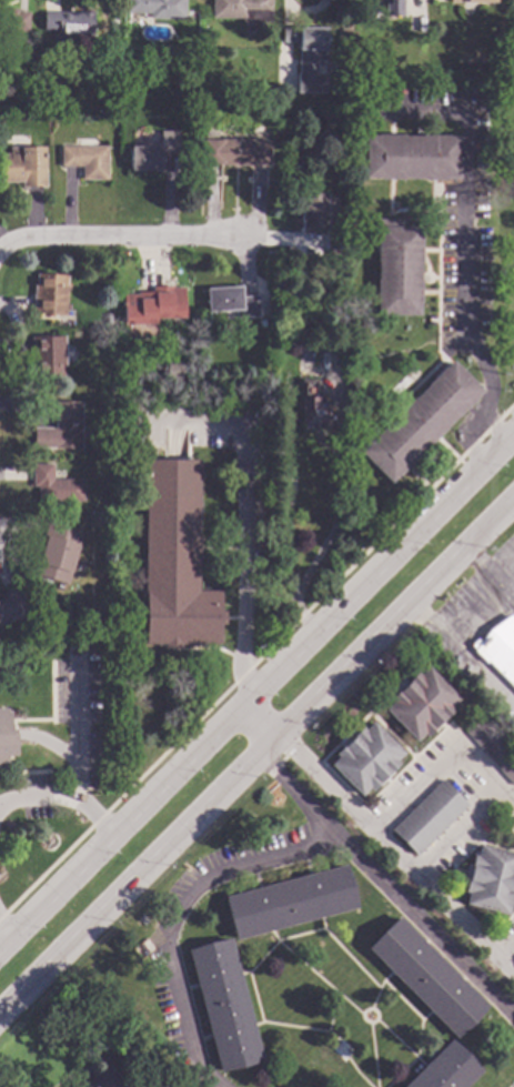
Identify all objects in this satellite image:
building: (470, 0)
road: (23, 3)
road: (48, 3)
building: (391, 7)
building: (157, 8)
building: (242, 10)
road: (300, 12)
building: (13, 20)
building: (113, 20)
building: (68, 26)
building: (305, 37)
building: (189, 44)
building: (370, 77)
building: (295, 83)
building: (263, 91)
building: (210, 109)
building: (235, 151)
building: (152, 152)
building: (411, 155)
building: (85, 160)
building: (23, 165)
building: (312, 211)
road: (113, 234)
road: (466, 240)
building: (335, 243)
building: (397, 268)
building: (50, 294)
building: (232, 301)
building: (153, 304)
building: (108, 319)
building: (261, 322)
building: (302, 339)
building: (47, 355)
building: (175, 370)
building: (313, 404)
building: (421, 421)
building: (60, 427)
road: (464, 444)
building: (54, 484)
road: (335, 516)
road: (242, 520)
building: (57, 553)
building: (173, 558)
road: (482, 565)
road: (478, 602)
building: (13, 605)
building: (61, 617)
road: (426, 621)
building: (498, 647)
road: (252, 696)
building: (422, 702)
road: (253, 727)
building: (6, 737)
building: (493, 746)
road: (255, 754)
road: (446, 754)
road: (79, 755)
building: (366, 757)
road: (39, 798)
building: (429, 816)
road: (461, 835)
road: (403, 857)
road: (374, 877)
building: (491, 878)
building: (290, 902)
road: (174, 913)
road: (10, 928)
road: (507, 955)
building: (426, 976)
building: (142, 1003)
building: (224, 1005)
building: (334, 1053)
building: (445, 1069)
building: (104, 1078)

